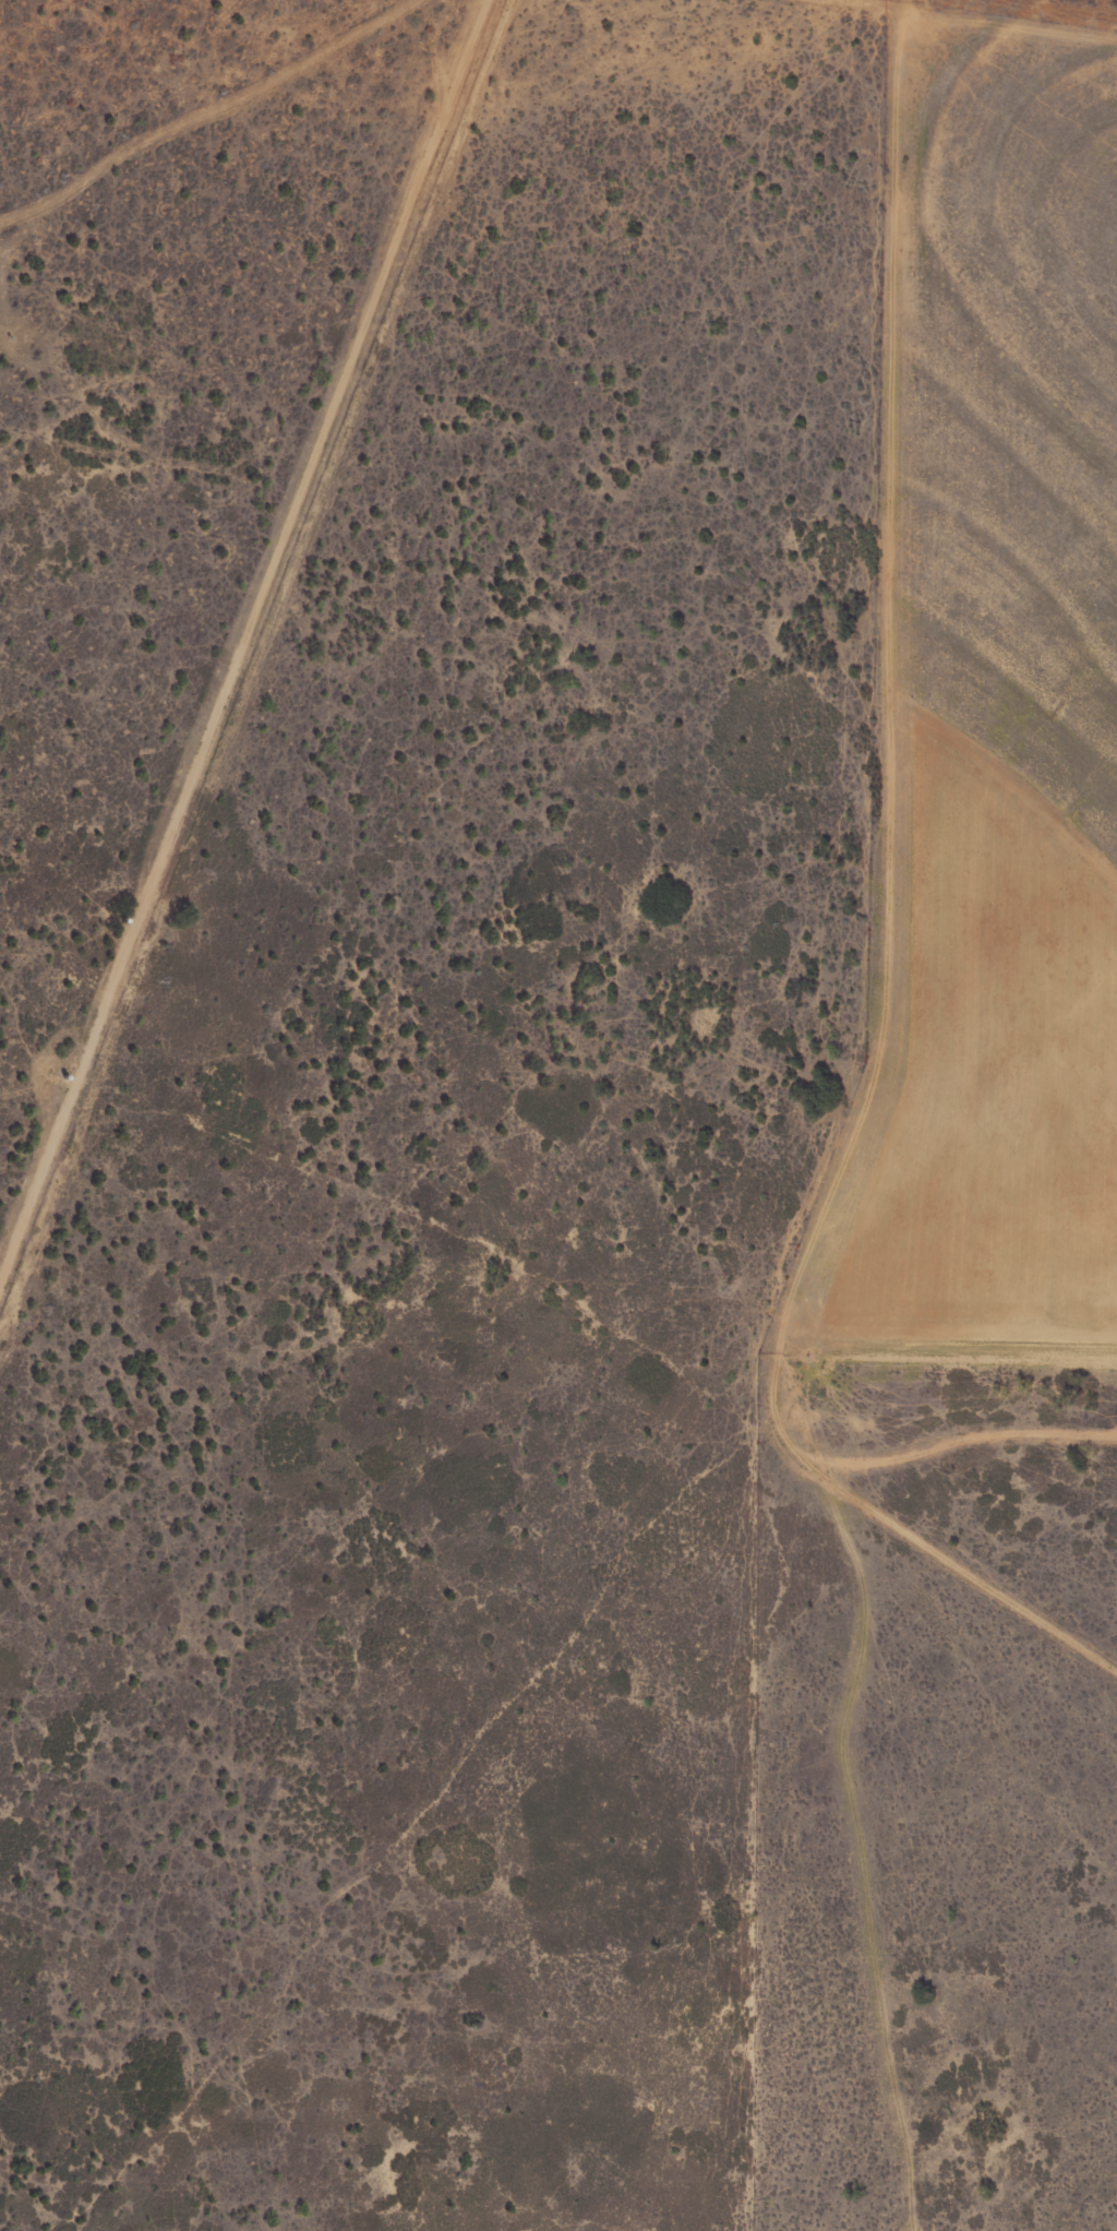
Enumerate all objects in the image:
road: (220, 548)
road: (868, 813)
road: (954, 1386)
road: (990, 1624)
road: (844, 1907)

